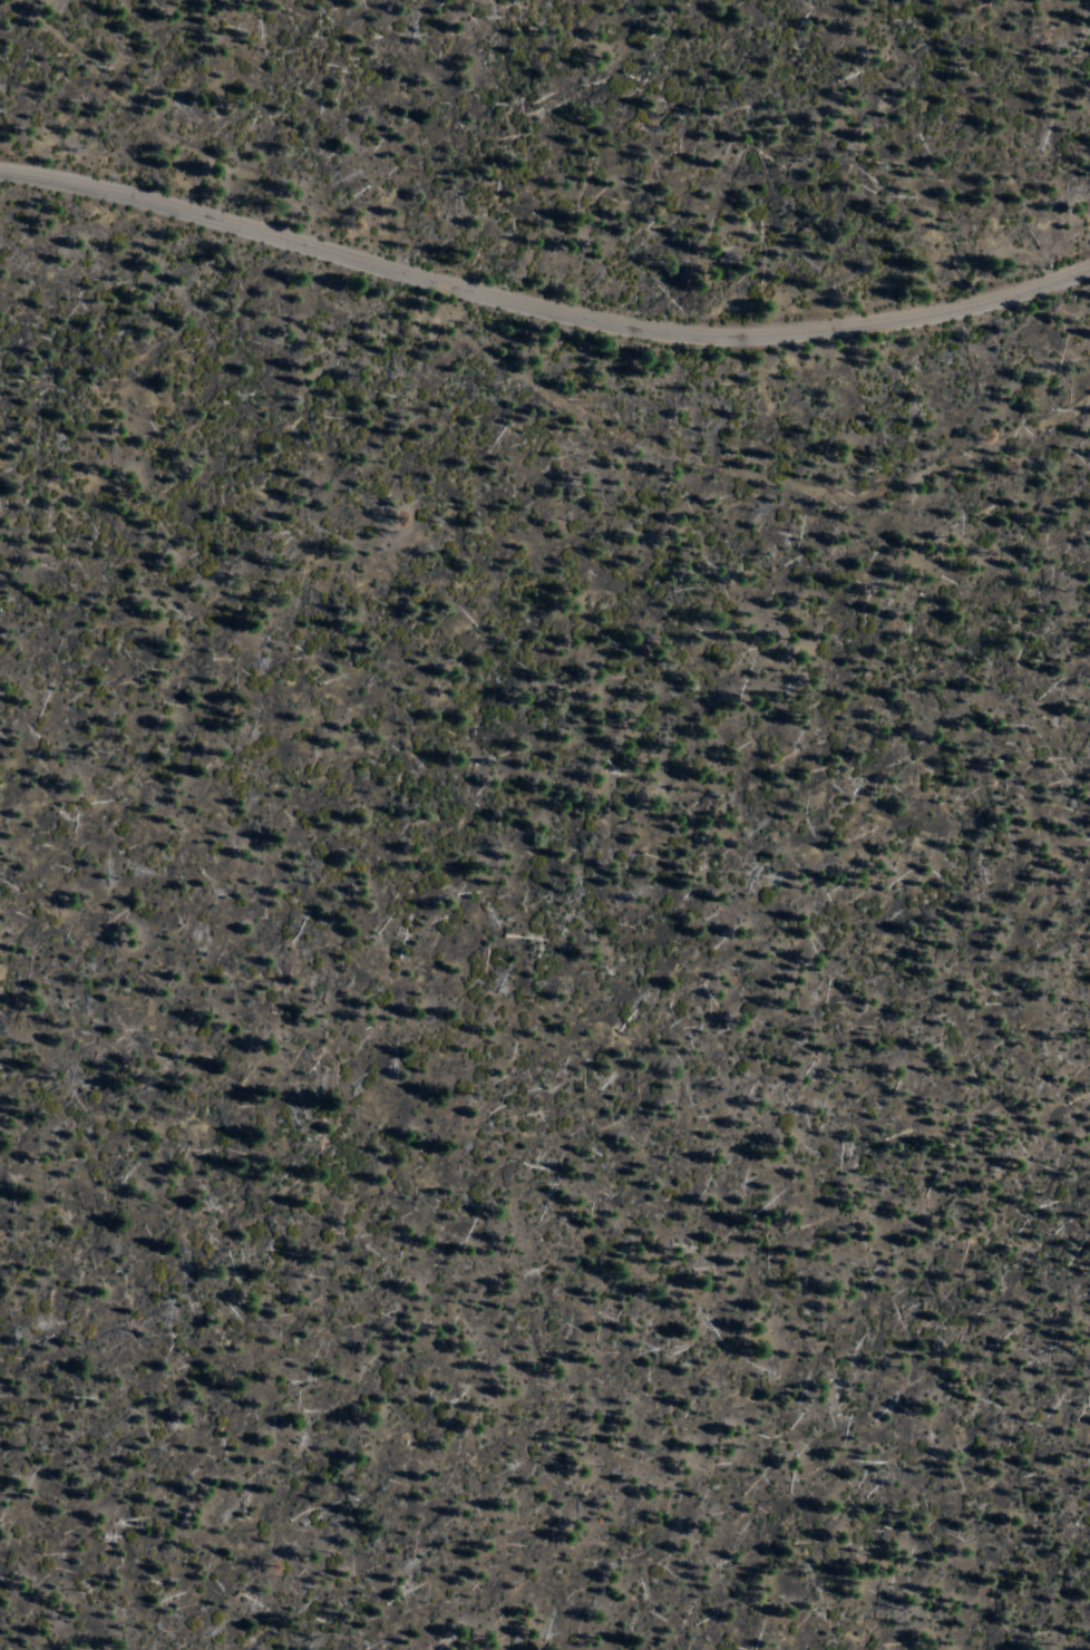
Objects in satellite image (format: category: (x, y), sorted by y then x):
road: (541, 313)

